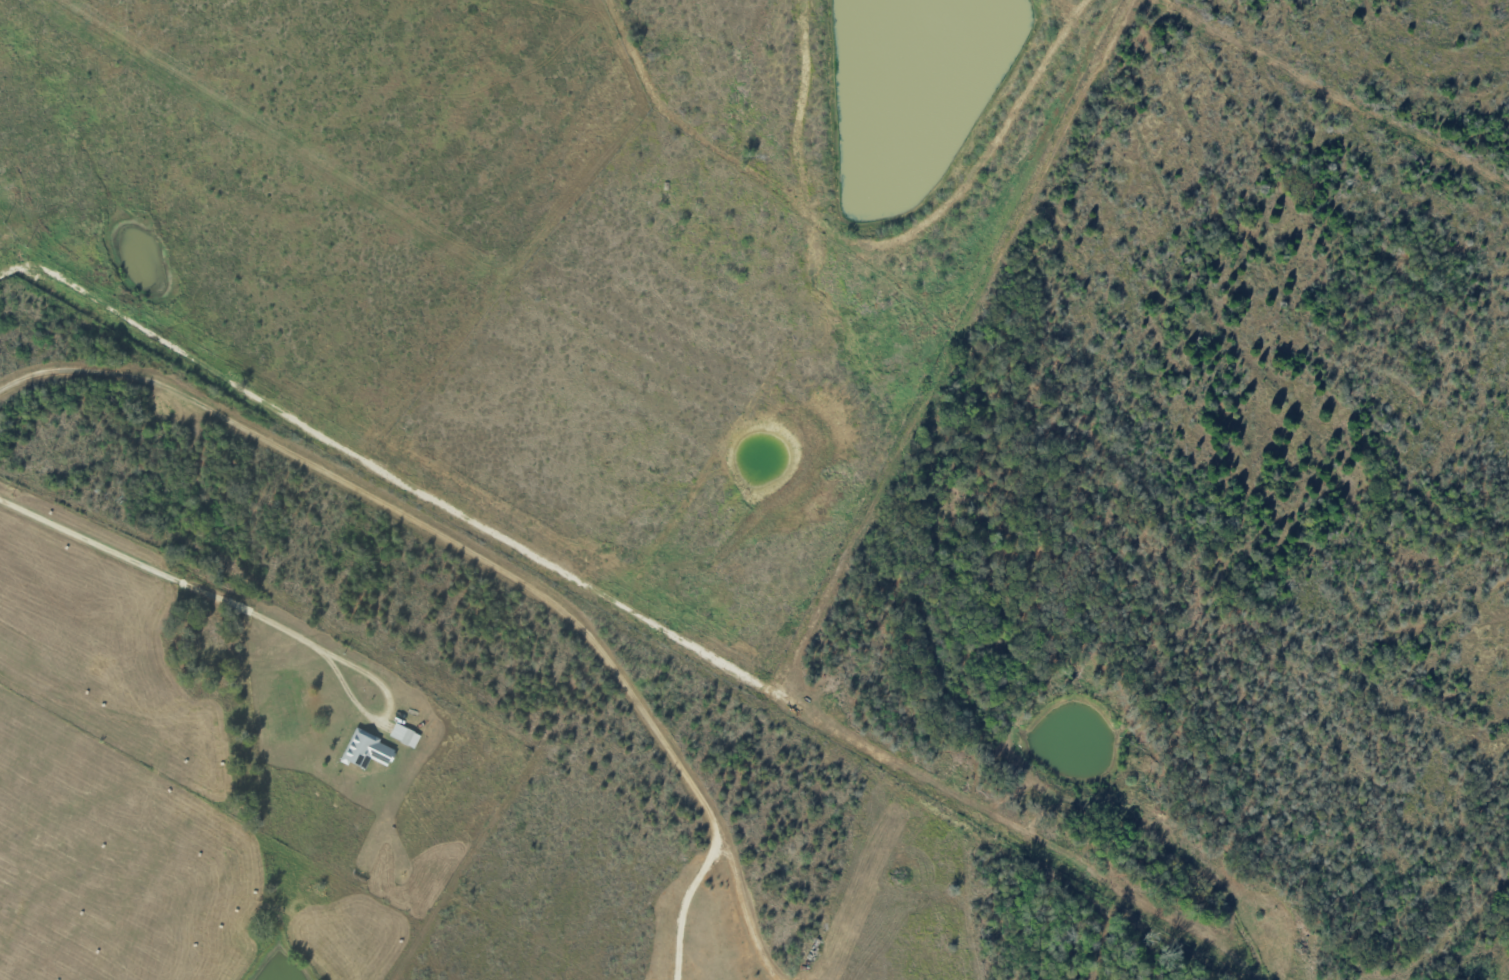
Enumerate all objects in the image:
road: (488, 553)
road: (173, 579)
building: (366, 749)
road: (686, 900)

